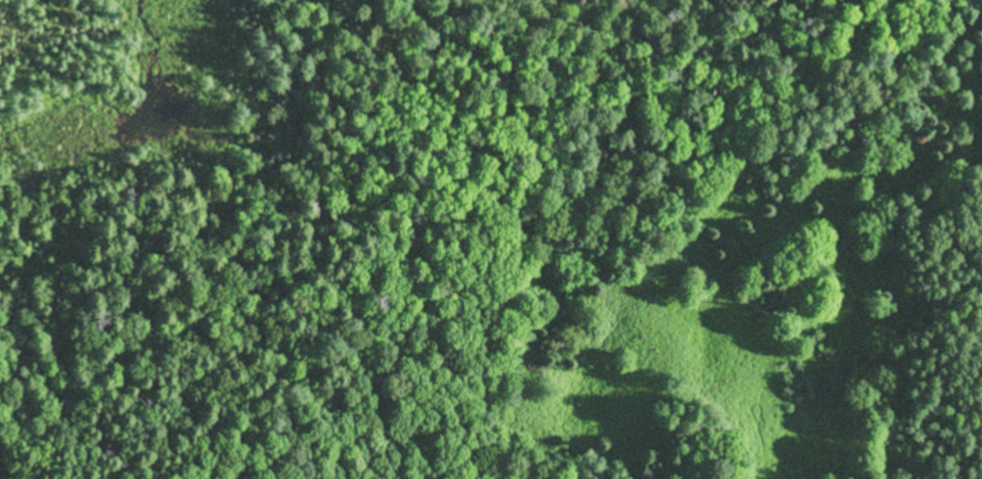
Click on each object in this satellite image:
road: (797, 157)

